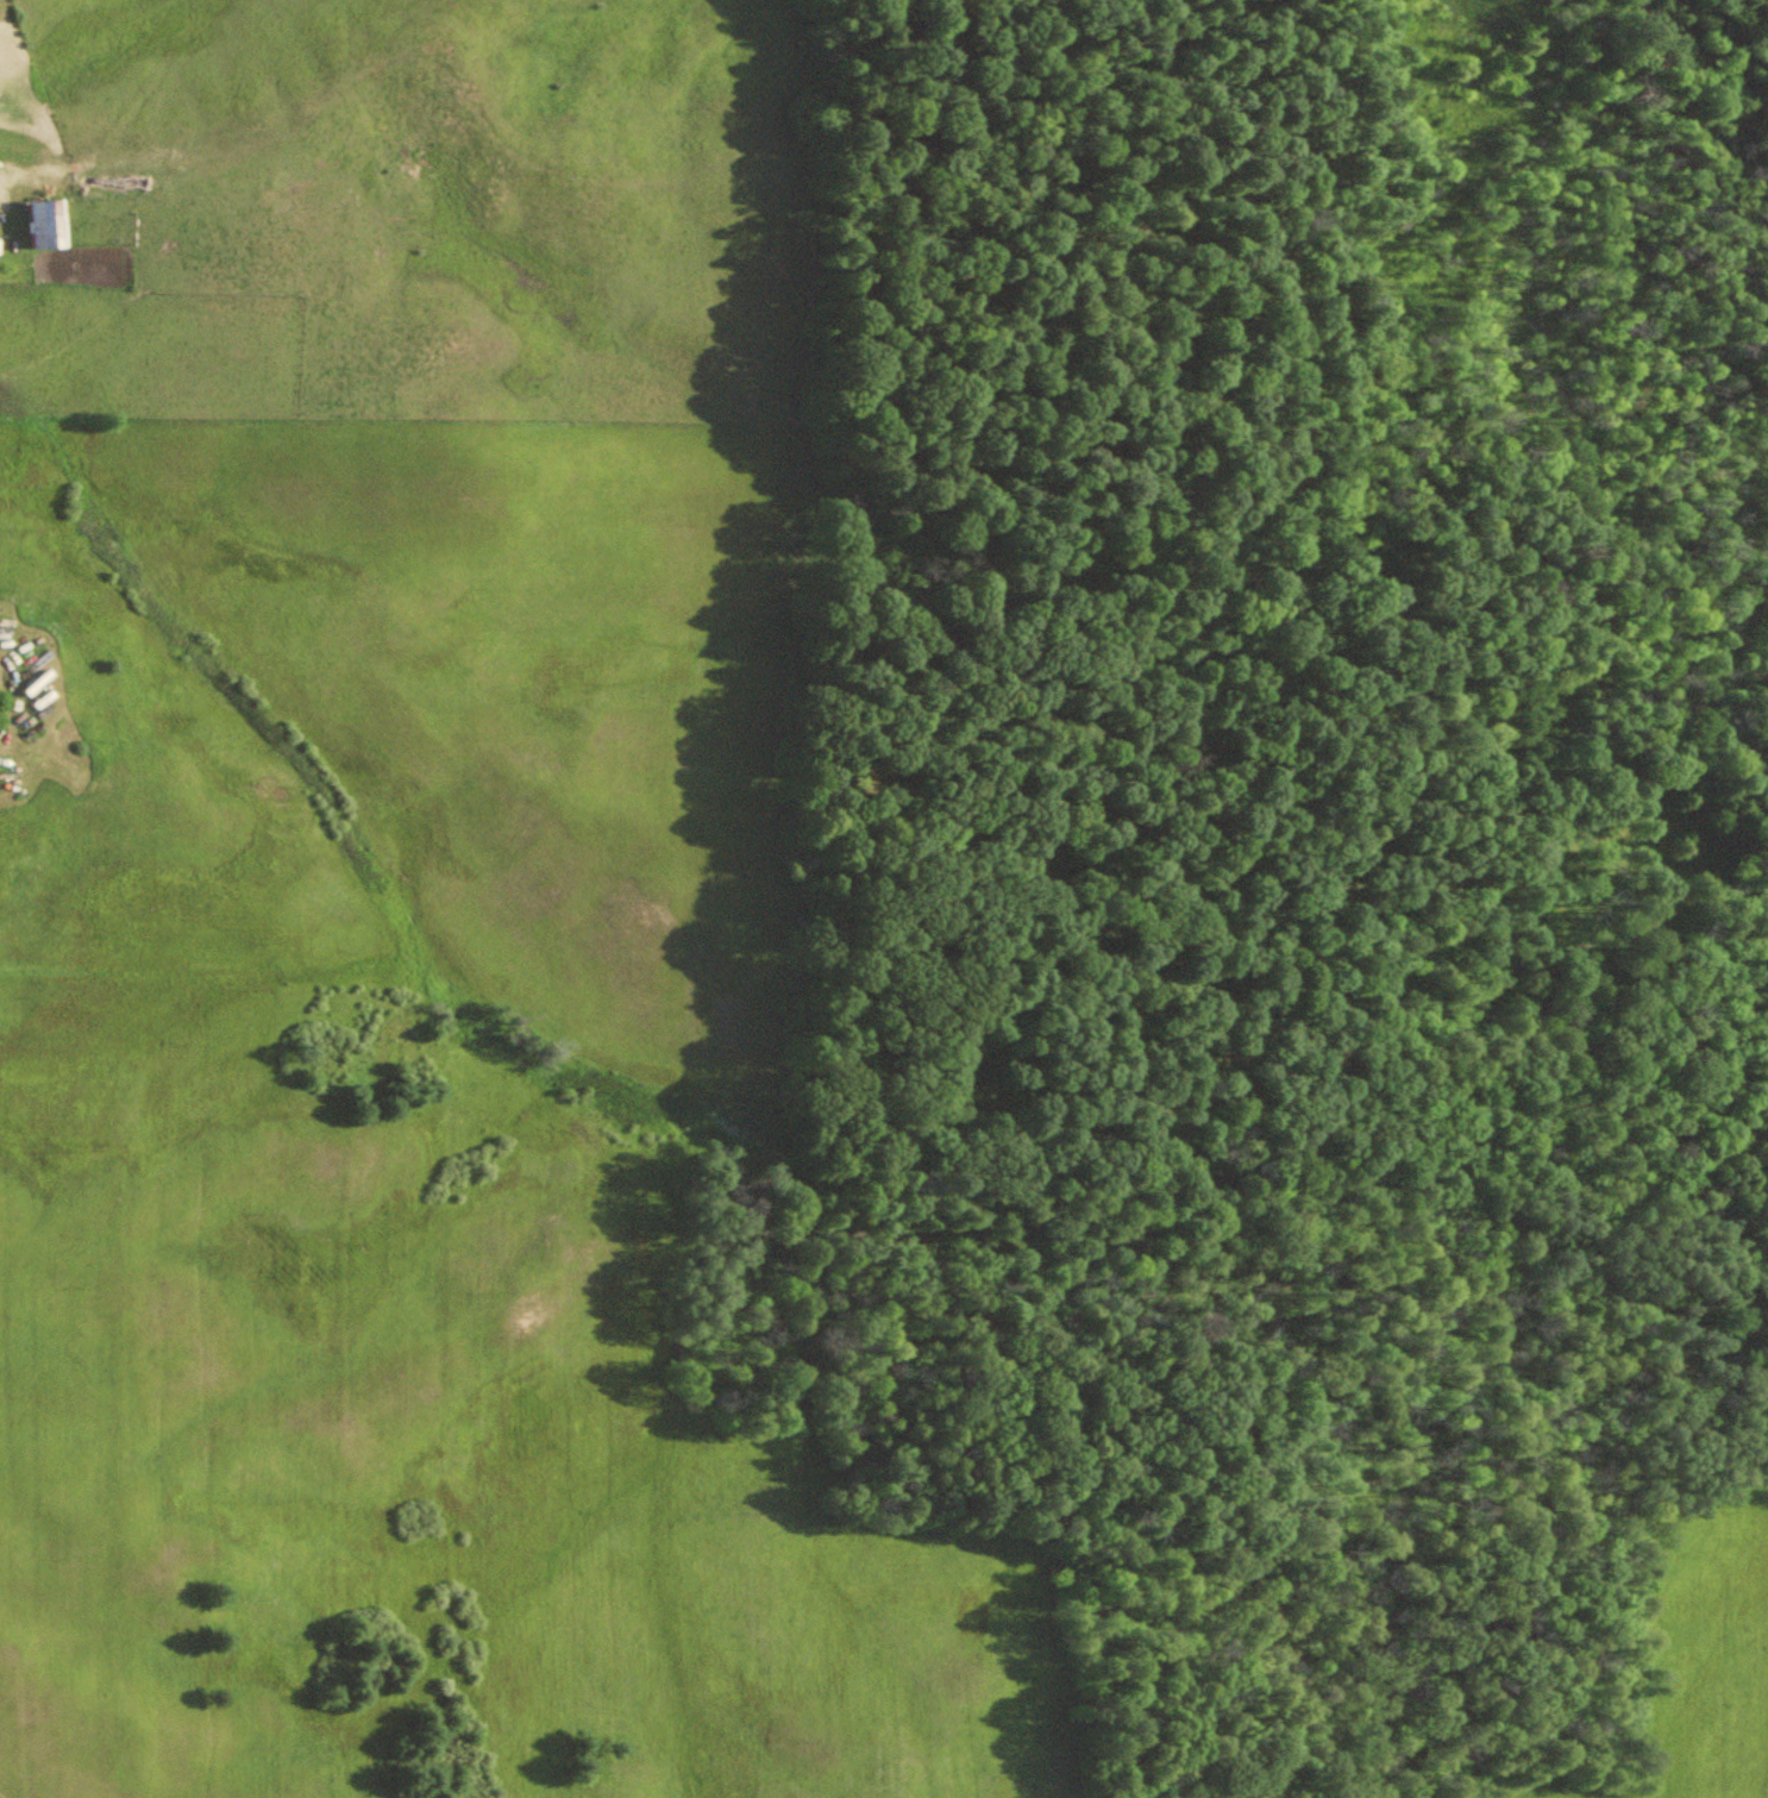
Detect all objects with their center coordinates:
building: (40, 224)

